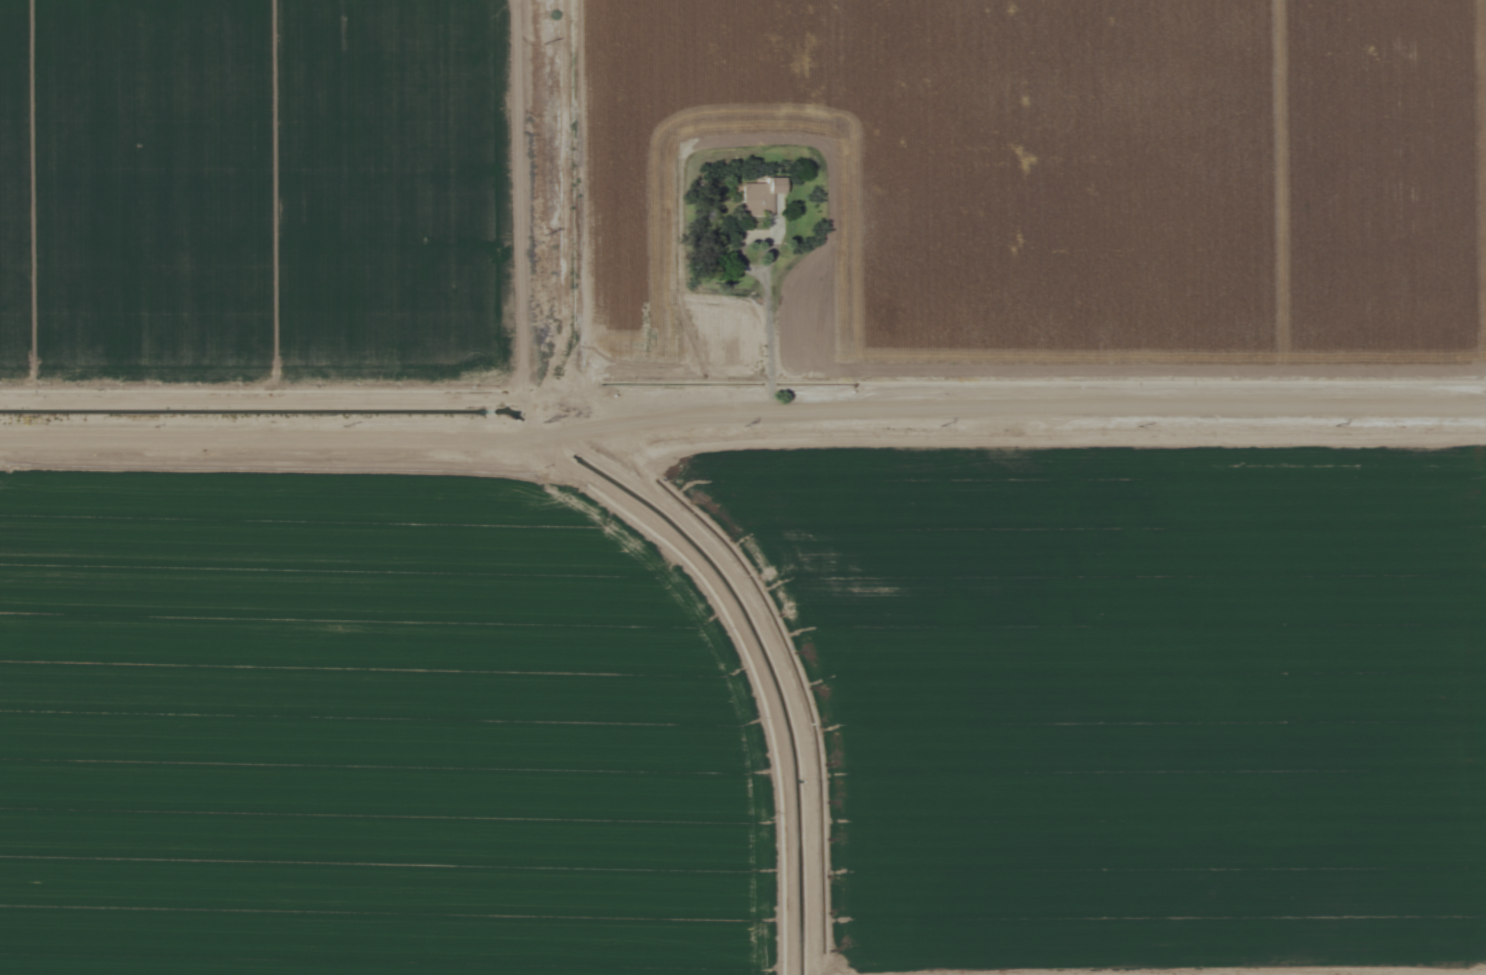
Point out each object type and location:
crop: (1049, 187)
crop: (258, 193)
building: (759, 195)
road: (743, 418)
crop: (1135, 697)
crop: (366, 734)
building: (179, 844)

